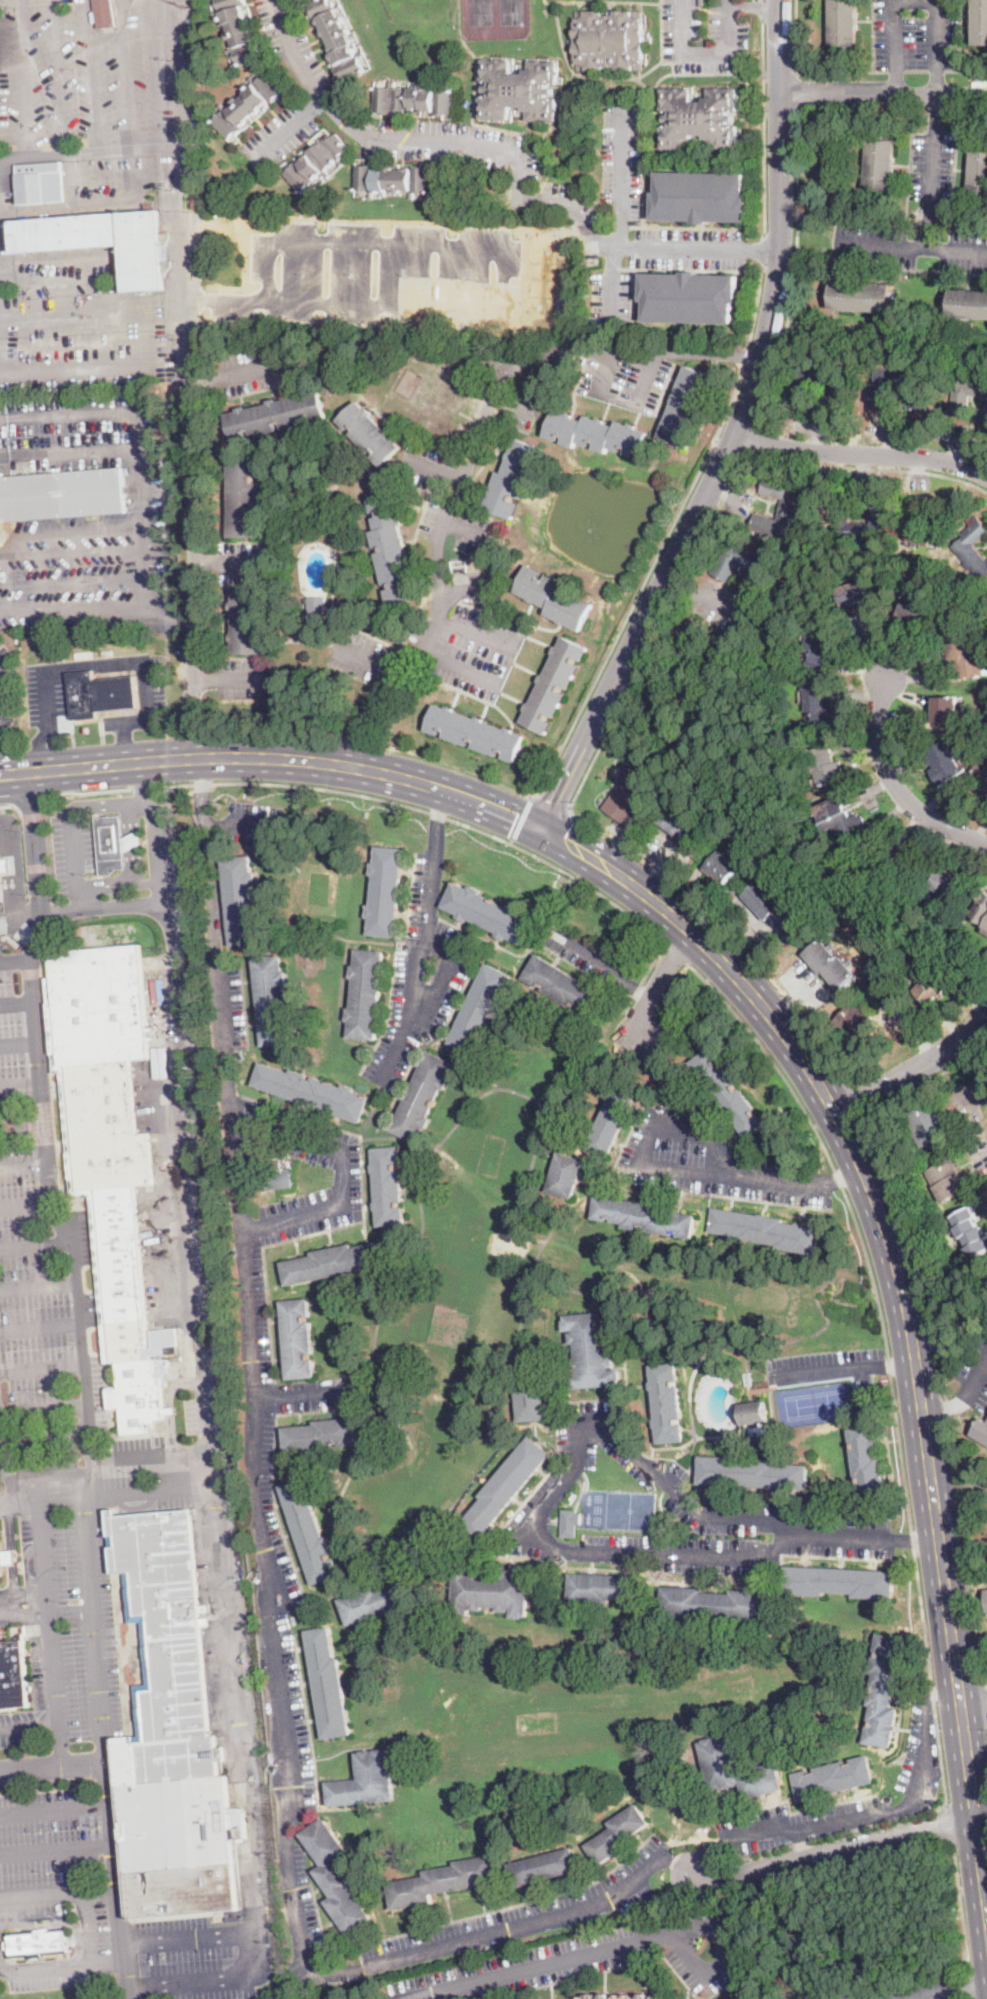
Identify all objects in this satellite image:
road: (914, 0)
building: (702, 2)
road: (754, 5)
road: (763, 9)
building: (105, 14)
park: (495, 14)
building: (981, 22)
building: (843, 23)
building: (239, 32)
parking lot: (916, 33)
parking lot: (703, 34)
road: (797, 37)
building: (336, 39)
building: (609, 41)
road: (705, 53)
road: (842, 71)
road: (894, 84)
road: (938, 84)
building: (519, 90)
road: (798, 92)
road: (883, 92)
parking lot: (99, 94)
building: (412, 100)
building: (247, 105)
building: (700, 118)
road: (762, 126)
road: (290, 130)
road: (90, 152)
parking lot: (502, 152)
road: (512, 156)
building: (544, 159)
parking lot: (620, 159)
building: (316, 163)
building: (880, 164)
parking lot: (932, 166)
building: (978, 172)
building: (392, 179)
building: (41, 183)
road: (182, 187)
building: (702, 197)
road: (931, 200)
road: (623, 214)
parking lot: (577, 215)
building: (103, 241)
road: (885, 245)
parking lot: (908, 246)
road: (764, 248)
road: (796, 270)
parking lot: (380, 275)
road: (504, 285)
parking lot: (612, 289)
building: (863, 296)
building: (690, 298)
building: (969, 304)
parking lot: (84, 324)
road: (150, 340)
road: (685, 352)
parking lot: (257, 369)
road: (242, 372)
road: (601, 372)
road: (645, 377)
parking lot: (626, 380)
building: (837, 391)
building: (878, 394)
building: (967, 395)
road: (514, 400)
building: (686, 407)
parking lot: (521, 408)
building: (276, 415)
building: (931, 415)
building: (369, 433)
building: (596, 434)
road: (750, 437)
road: (730, 438)
parking lot: (87, 440)
road: (68, 451)
road: (860, 453)
road: (434, 465)
parking lot: (426, 468)
road: (866, 469)
building: (514, 478)
road: (196, 481)
building: (62, 494)
building: (245, 498)
building: (789, 505)
building: (879, 515)
road: (143, 520)
fountain: (596, 521)
road: (441, 528)
parking lot: (459, 528)
road: (468, 529)
building: (929, 532)
road: (68, 536)
building: (0, 537)
road: (665, 544)
building: (393, 550)
building: (973, 550)
road: (228, 562)
building: (272, 562)
parking lot: (240, 563)
building: (722, 570)
road: (125, 572)
parking lot: (86, 573)
road: (79, 574)
road: (40, 575)
road: (465, 579)
parking lot: (484, 579)
road: (7, 582)
building: (855, 593)
building: (553, 598)
building: (317, 608)
building: (920, 611)
building: (246, 621)
road: (477, 631)
road: (654, 634)
building: (727, 647)
building: (818, 648)
parking lot: (477, 653)
building: (59, 656)
parking lot: (363, 656)
building: (965, 659)
road: (369, 660)
road: (95, 662)
road: (460, 667)
road: (237, 679)
parking lot: (244, 679)
parking lot: (156, 683)
building: (554, 685)
parking lot: (5, 693)
building: (100, 694)
parking lot: (46, 695)
building: (820, 707)
building: (945, 709)
building: (709, 718)
building: (475, 732)
road: (279, 746)
road: (125, 749)
road: (201, 759)
road: (40, 760)
building: (944, 762)
building: (824, 766)
building: (980, 769)
road: (1, 774)
building: (531, 780)
road: (896, 785)
road: (144, 787)
building: (628, 789)
road: (84, 792)
road: (554, 800)
road: (26, 803)
traffic signals: (556, 803)
road: (6, 805)
road: (429, 810)
road: (70, 817)
road: (438, 817)
road: (523, 819)
building: (844, 820)
road: (158, 824)
parking lot: (256, 824)
road: (243, 825)
building: (684, 826)
traffic signals: (510, 830)
traffic signals: (568, 830)
road: (560, 838)
building: (133, 840)
building: (111, 844)
parking lot: (161, 848)
parking lot: (73, 853)
building: (901, 859)
road: (132, 864)
road: (17, 866)
building: (722, 869)
road: (7, 872)
road: (650, 872)
building: (946, 881)
building: (1, 884)
building: (385, 892)
building: (241, 900)
building: (981, 908)
building: (778, 910)
building: (297, 912)
building: (488, 913)
parking lot: (1, 918)
road: (19, 920)
building: (985, 930)
parking lot: (583, 952)
road: (677, 954)
road: (16, 958)
road: (602, 964)
building: (830, 964)
road: (451, 969)
road: (420, 973)
road: (646, 973)
road: (718, 974)
parking lot: (421, 976)
road: (663, 977)
building: (563, 986)
building: (932, 988)
building: (365, 994)
road: (779, 997)
building: (272, 1000)
road: (17, 1003)
parking lot: (226, 1004)
building: (480, 1009)
building: (857, 1024)
parking lot: (21, 1027)
road: (19, 1044)
road: (977, 1062)
road: (909, 1077)
road: (21, 1082)
building: (313, 1091)
building: (729, 1094)
building: (423, 1097)
road: (676, 1111)
road: (183, 1114)
parking lot: (245, 1120)
road: (22, 1122)
building: (611, 1123)
building: (928, 1124)
road: (46, 1145)
parking lot: (704, 1150)
building: (110, 1155)
road: (24, 1161)
building: (275, 1164)
road: (656, 1166)
road: (846, 1173)
building: (566, 1175)
parking lot: (346, 1177)
road: (776, 1177)
building: (279, 1180)
building: (947, 1180)
building: (388, 1186)
road: (345, 1201)
road: (26, 1207)
building: (645, 1216)
building: (767, 1230)
building: (970, 1231)
road: (903, 1244)
road: (32, 1245)
building: (335, 1262)
road: (38, 1283)
parking lot: (31, 1294)
parking lot: (252, 1315)
road: (934, 1321)
road: (40, 1325)
building: (297, 1339)
building: (592, 1350)
road: (888, 1358)
road: (904, 1363)
parking lot: (827, 1366)
road: (42, 1368)
road: (827, 1372)
parking lot: (975, 1373)
parking lot: (91, 1394)
road: (290, 1394)
parking lot: (309, 1394)
building: (531, 1401)
road: (957, 1402)
building: (667, 1403)
park: (814, 1403)
road: (44, 1407)
building: (169, 1411)
building: (752, 1412)
building: (981, 1431)
building: (321, 1435)
road: (0, 1439)
road: (579, 1446)
building: (867, 1464)
road: (208, 1471)
building: (752, 1472)
parking lot: (101, 1480)
road: (5, 1486)
building: (507, 1486)
road: (3, 1497)
parking lot: (9, 1503)
parking lot: (676, 1514)
building: (570, 1523)
building: (309, 1532)
road: (923, 1542)
road: (11, 1547)
building: (9, 1557)
building: (1, 1560)
road: (262, 1575)
building: (840, 1582)
building: (605, 1588)
building: (491, 1590)
road: (46, 1592)
building: (986, 1593)
road: (23, 1595)
building: (376, 1601)
building: (716, 1603)
parking lot: (14, 1606)
parking lot: (72, 1626)
parking lot: (279, 1639)
building: (13, 1674)
building: (328, 1684)
road: (986, 1688)
building: (884, 1691)
road: (935, 1695)
road: (967, 1701)
road: (239, 1710)
road: (102, 1715)
road: (30, 1725)
parking lot: (18, 1727)
building: (171, 1733)
parking lot: (920, 1765)
road: (52, 1766)
building: (736, 1769)
building: (833, 1778)
building: (366, 1781)
road: (55, 1809)
road: (875, 1814)
road: (945, 1824)
building: (618, 1834)
road: (838, 1834)
road: (800, 1845)
road: (967, 1847)
road: (57, 1850)
road: (843, 1850)
building: (543, 1867)
road: (834, 1871)
building: (336, 1877)
building: (443, 1882)
road: (57, 1892)
parking lot: (95, 1907)
parking lot: (527, 1914)
parking lot: (300, 1915)
road: (963, 1918)
road: (90, 1929)
building: (36, 1943)
road: (984, 1952)
road: (256, 1953)
road: (984, 1954)
road: (727, 1957)
parking lot: (599, 1958)
road: (539, 1967)
road: (62, 1970)
road: (968, 1992)
parking lot: (903, 1993)
building: (606, 1996)
building: (644, 1996)
road: (947, 1996)
building: (590, 1997)
building: (658, 1997)
building: (624, 1998)

